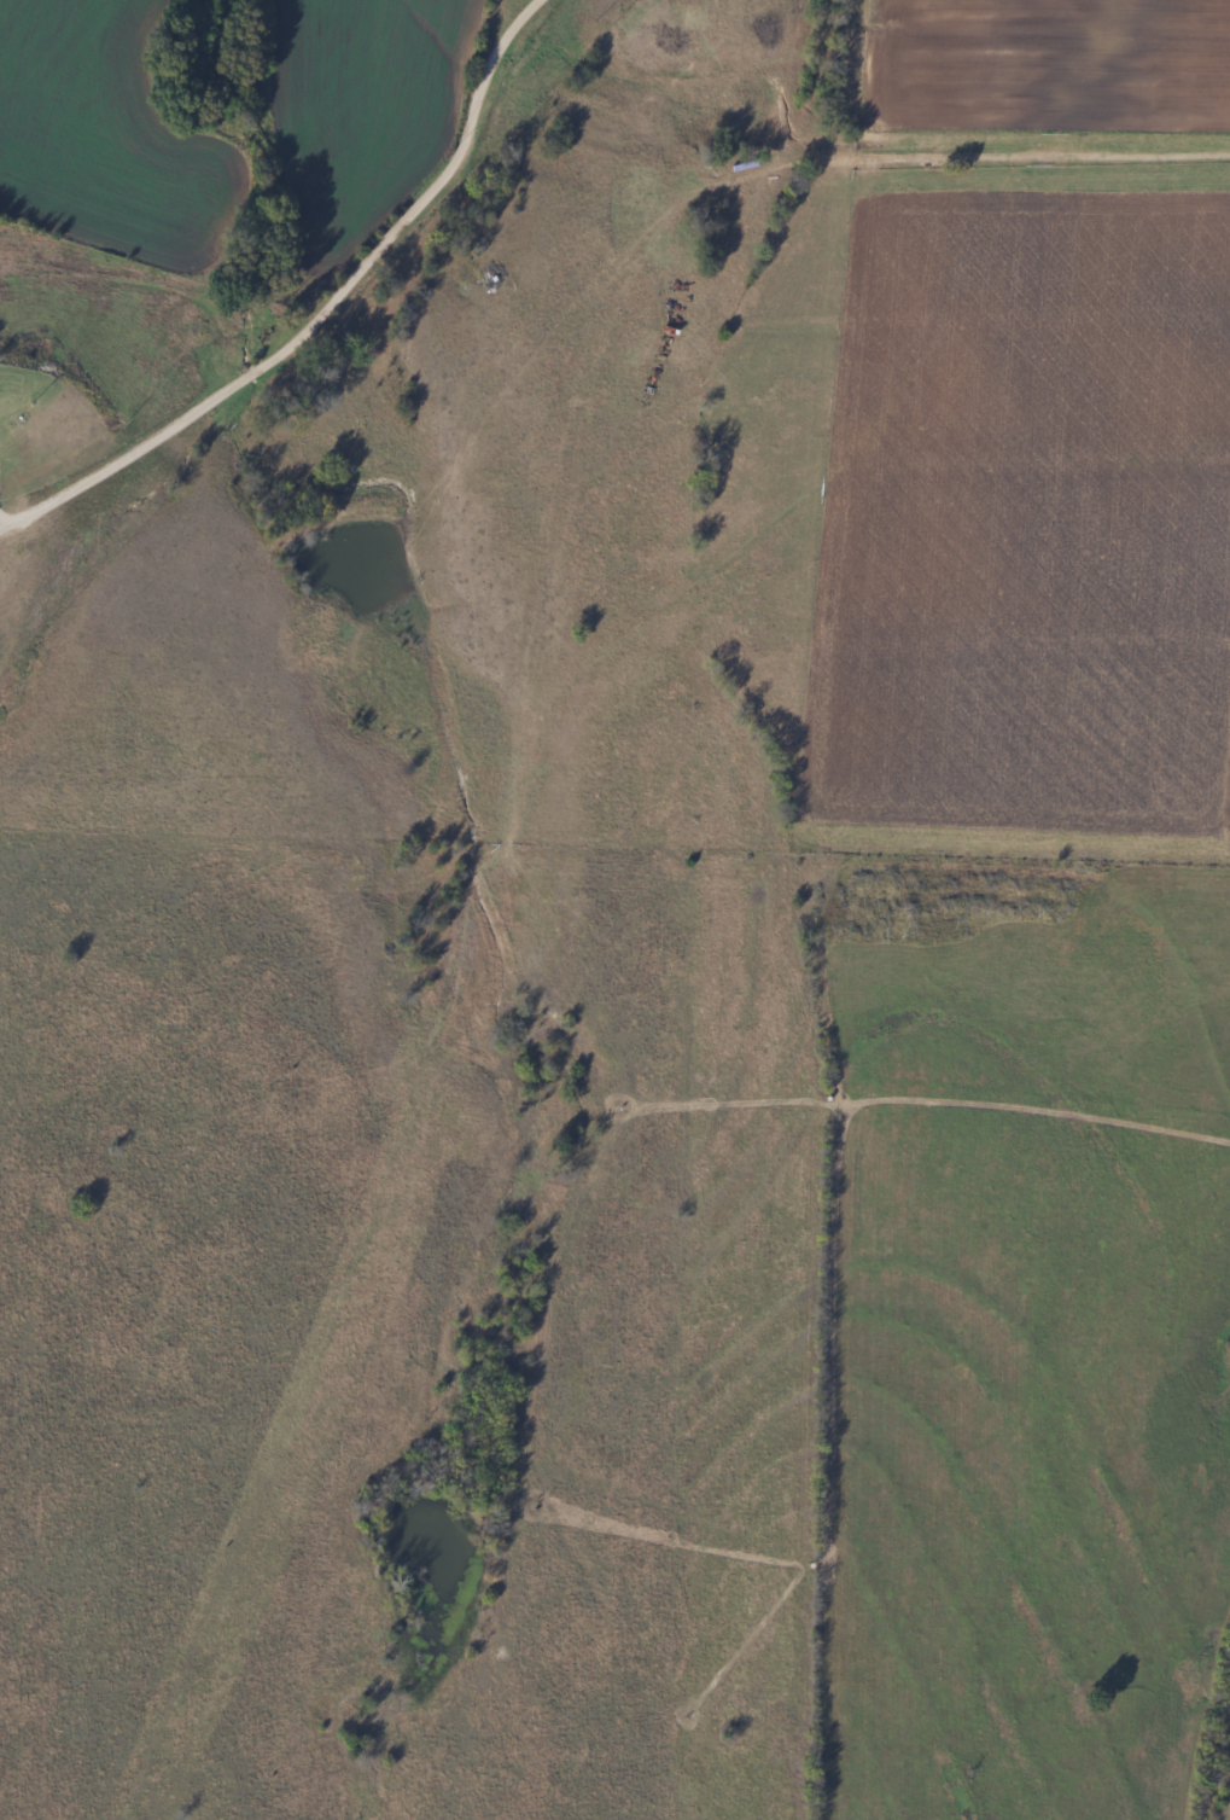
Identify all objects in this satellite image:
road: (315, 315)

